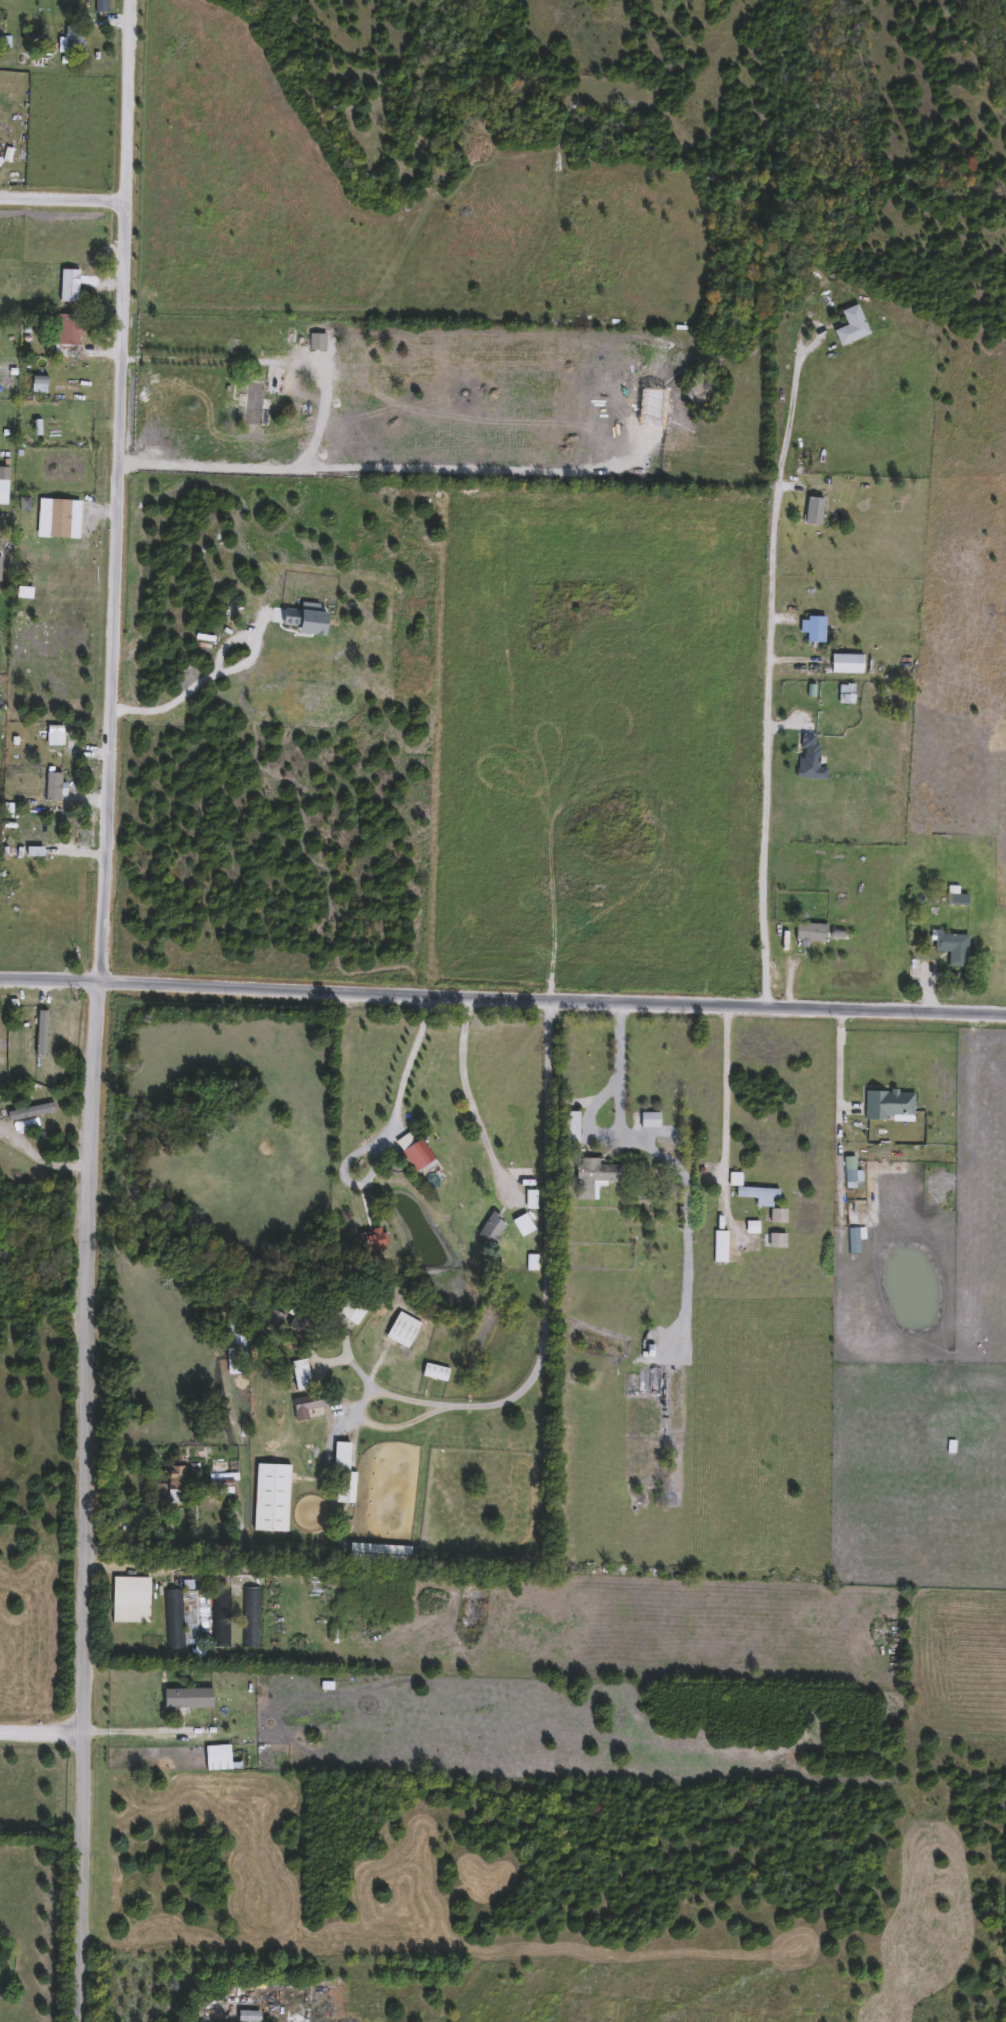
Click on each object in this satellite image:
building: (72, 40)
road: (63, 199)
building: (849, 325)
building: (66, 329)
building: (315, 341)
road: (194, 359)
building: (262, 398)
building: (3, 485)
building: (811, 510)
road: (215, 568)
building: (813, 630)
road: (775, 643)
building: (845, 664)
road: (213, 671)
building: (52, 729)
building: (807, 758)
building: (51, 787)
building: (808, 932)
building: (951, 947)
road: (50, 979)
road: (553, 996)
road: (99, 1010)
road: (409, 1066)
road: (470, 1097)
building: (886, 1106)
road: (839, 1109)
building: (28, 1112)
road: (725, 1116)
building: (648, 1121)
building: (568, 1127)
building: (411, 1150)
road: (671, 1150)
building: (592, 1177)
building: (776, 1216)
building: (521, 1225)
building: (490, 1229)
building: (775, 1240)
building: (853, 1240)
building: (371, 1241)
building: (718, 1246)
building: (351, 1310)
building: (273, 1321)
building: (401, 1330)
road: (545, 1332)
building: (234, 1347)
building: (433, 1372)
building: (298, 1374)
building: (341, 1471)
building: (221, 1483)
building: (170, 1487)
building: (269, 1497)
building: (377, 1555)
building: (129, 1600)
building: (203, 1616)
building: (221, 1617)
building: (251, 1617)
building: (173, 1619)
building: (193, 1708)
road: (43, 1729)
road: (144, 1729)
building: (213, 1758)
road: (209, 2011)
building: (246, 2016)

